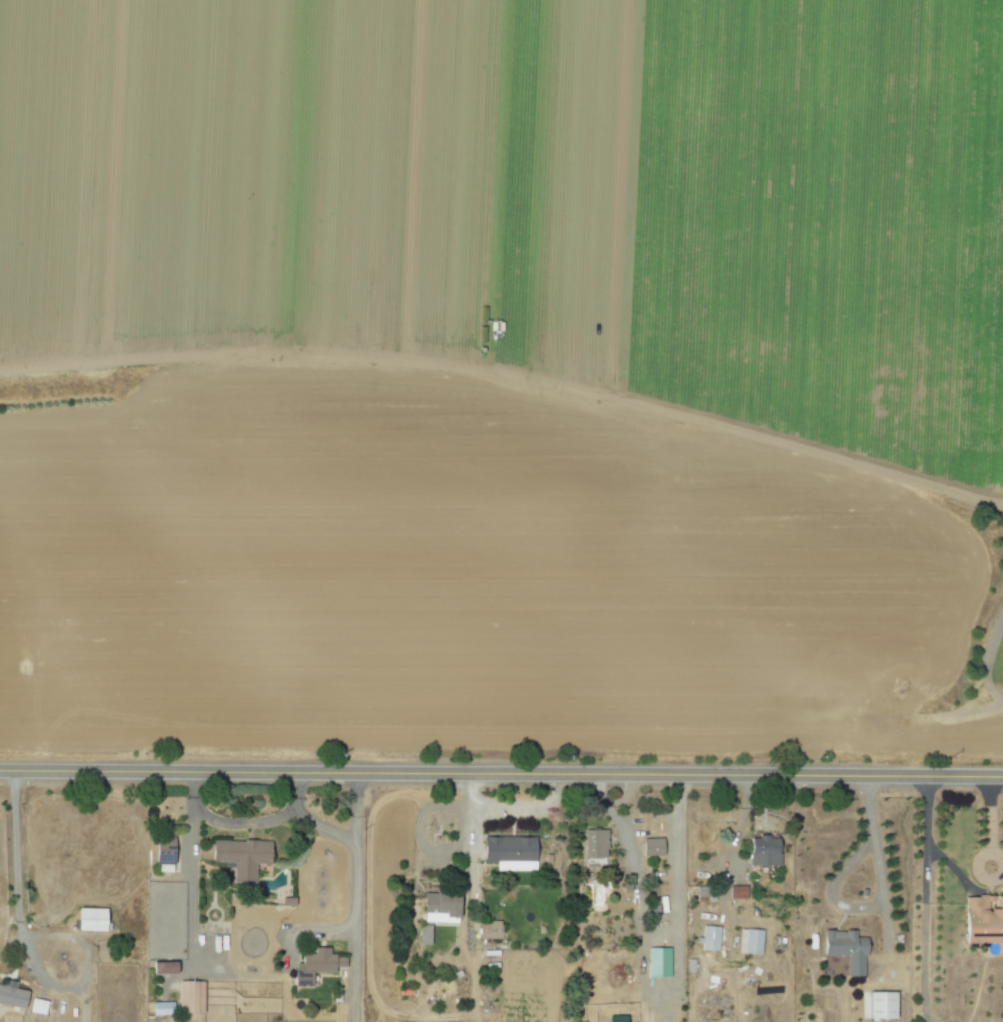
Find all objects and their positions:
road: (501, 774)
road: (295, 793)
road: (510, 807)
road: (988, 815)
road: (256, 821)
building: (593, 847)
building: (651, 847)
building: (162, 850)
building: (762, 851)
building: (508, 852)
road: (935, 852)
building: (239, 857)
road: (1001, 864)
road: (879, 866)
road: (837, 881)
road: (191, 890)
building: (736, 892)
road: (355, 897)
building: (438, 907)
road: (12, 911)
building: (88, 919)
building: (982, 921)
building: (487, 930)
road: (923, 930)
building: (422, 934)
building: (708, 938)
building: (748, 941)
building: (844, 950)
building: (656, 962)
building: (314, 965)
building: (162, 968)
building: (11, 995)
building: (189, 996)
building: (880, 1005)
building: (37, 1006)
building: (161, 1008)
building: (615, 1018)

